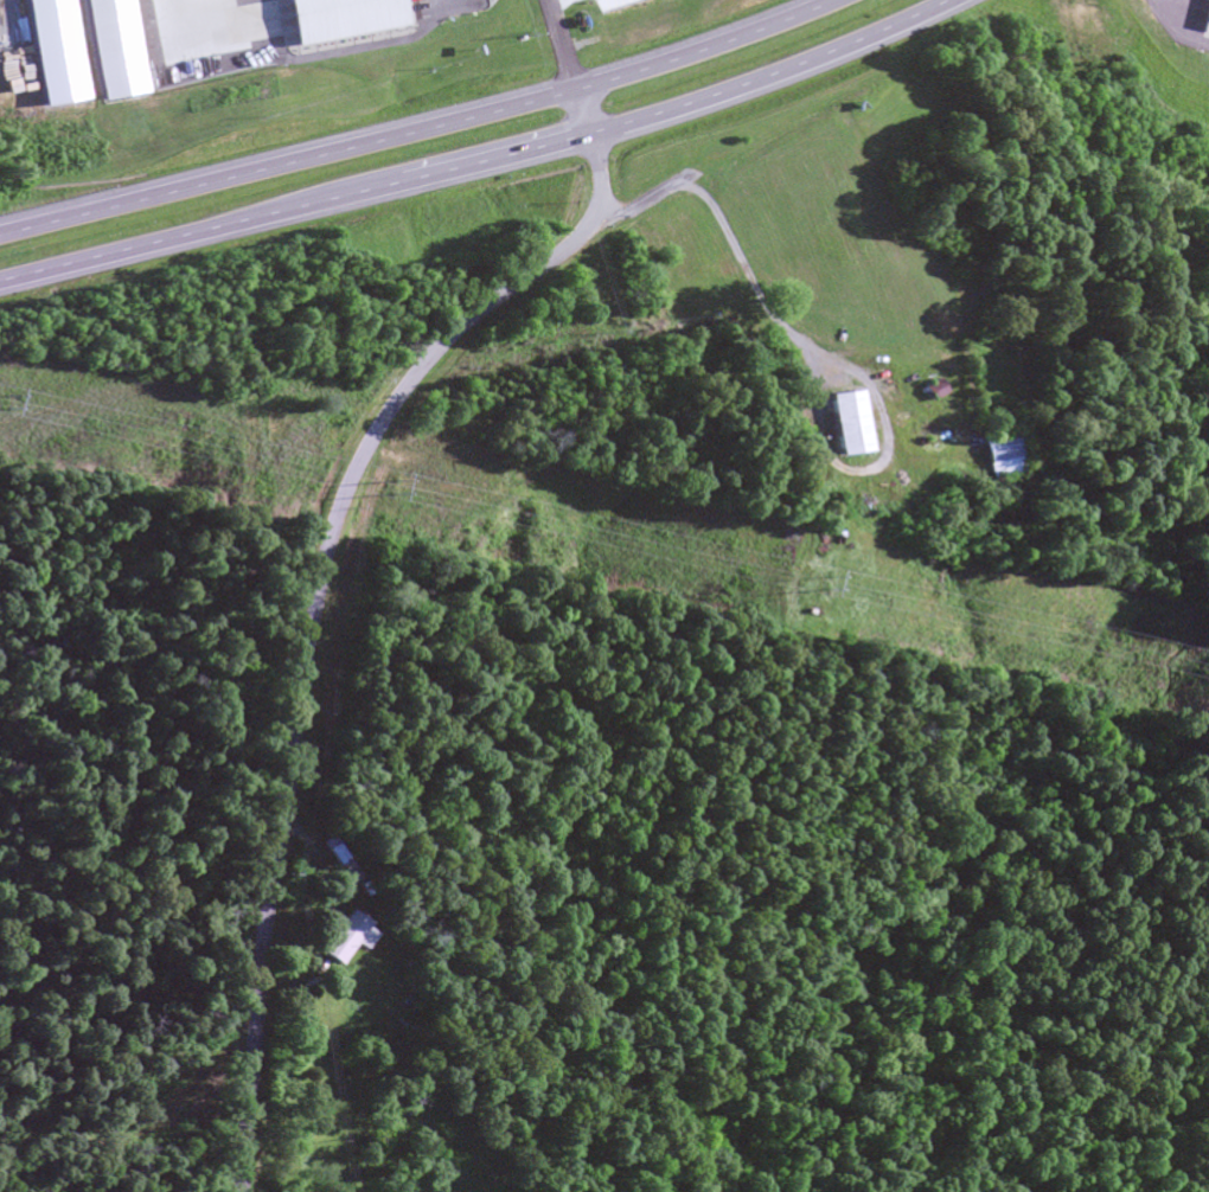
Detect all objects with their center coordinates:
building: (1208, 17)
road: (562, 44)
road: (420, 130)
road: (482, 165)
building: (936, 386)
power tower: (1, 397)
building: (849, 421)
building: (1002, 451)
power tower: (392, 483)
power tower: (825, 578)
road: (315, 588)
building: (346, 933)

